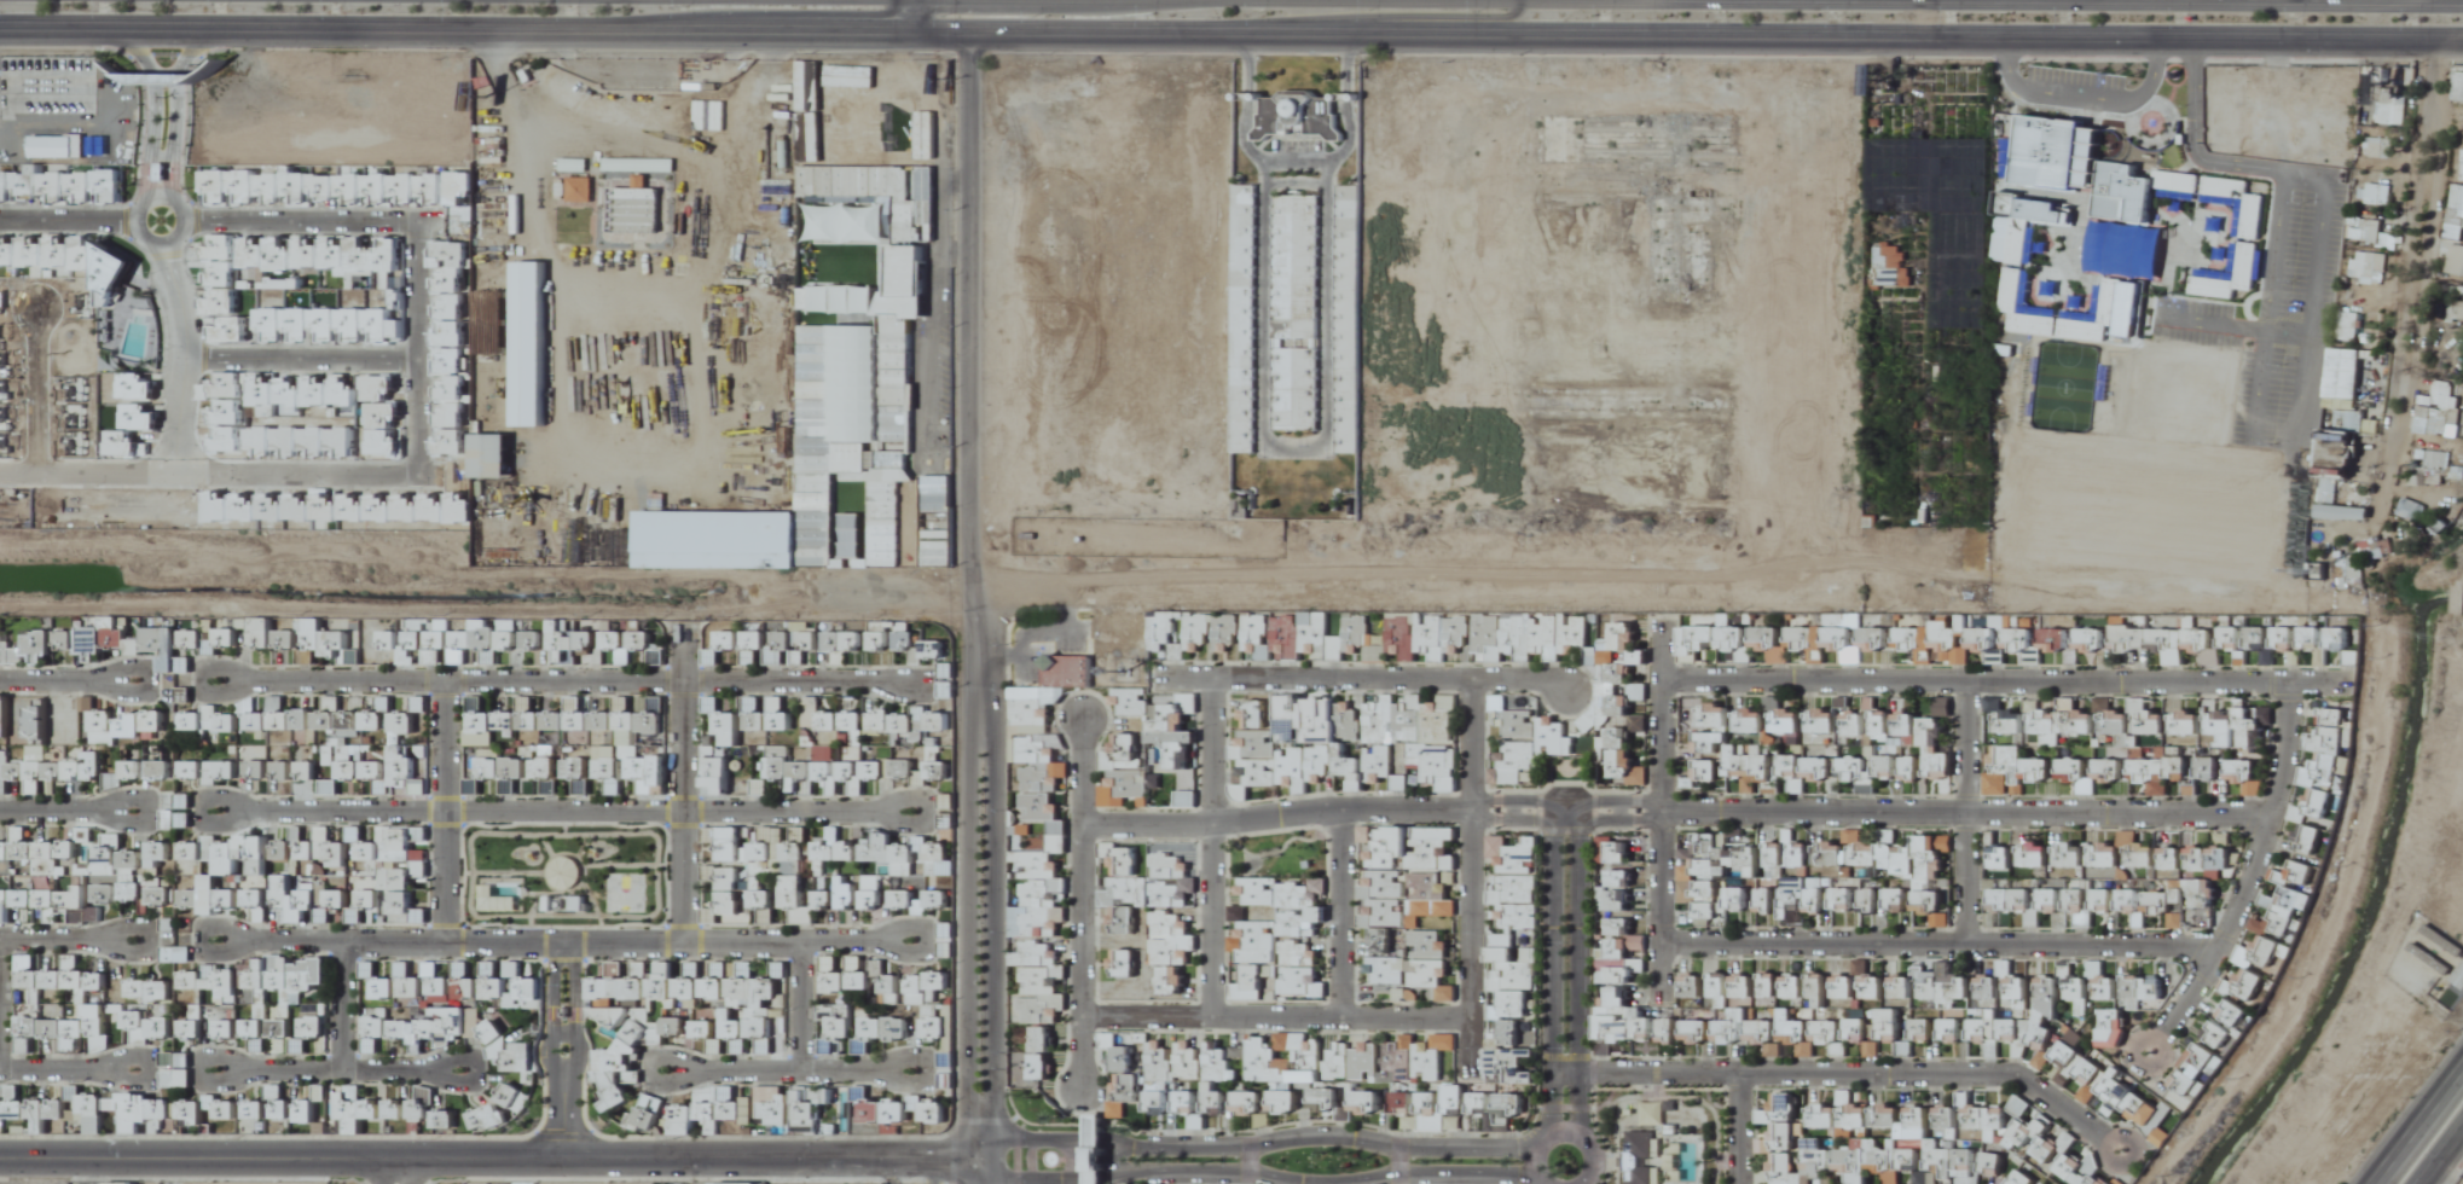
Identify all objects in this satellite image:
park: (566, 875)

